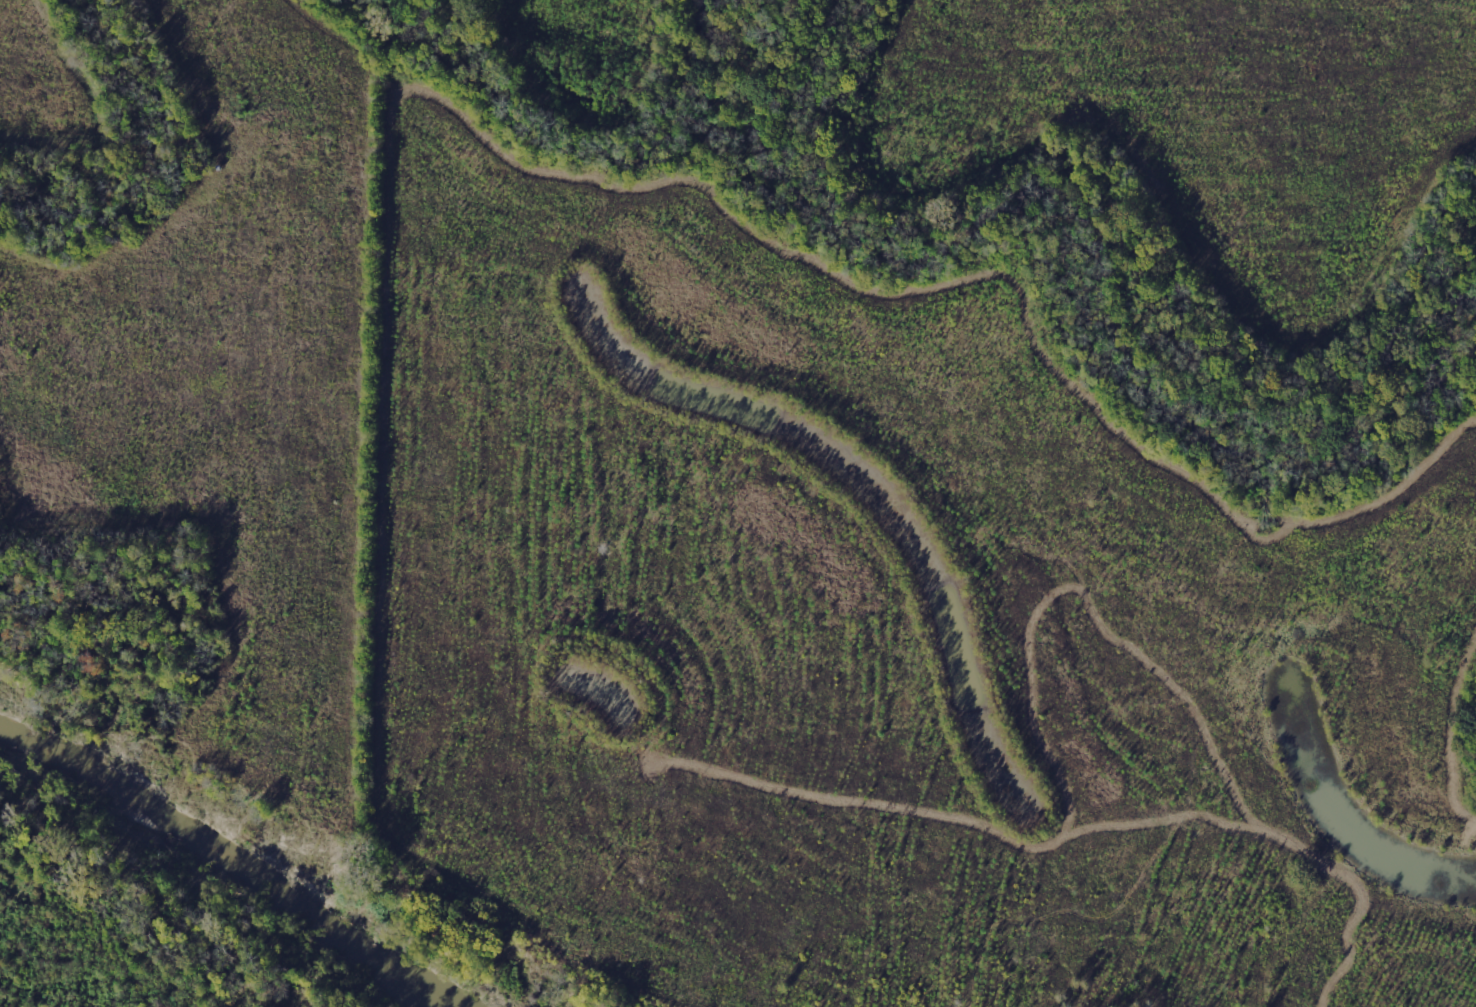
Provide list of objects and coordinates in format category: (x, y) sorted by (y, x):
river: (241, 872)

